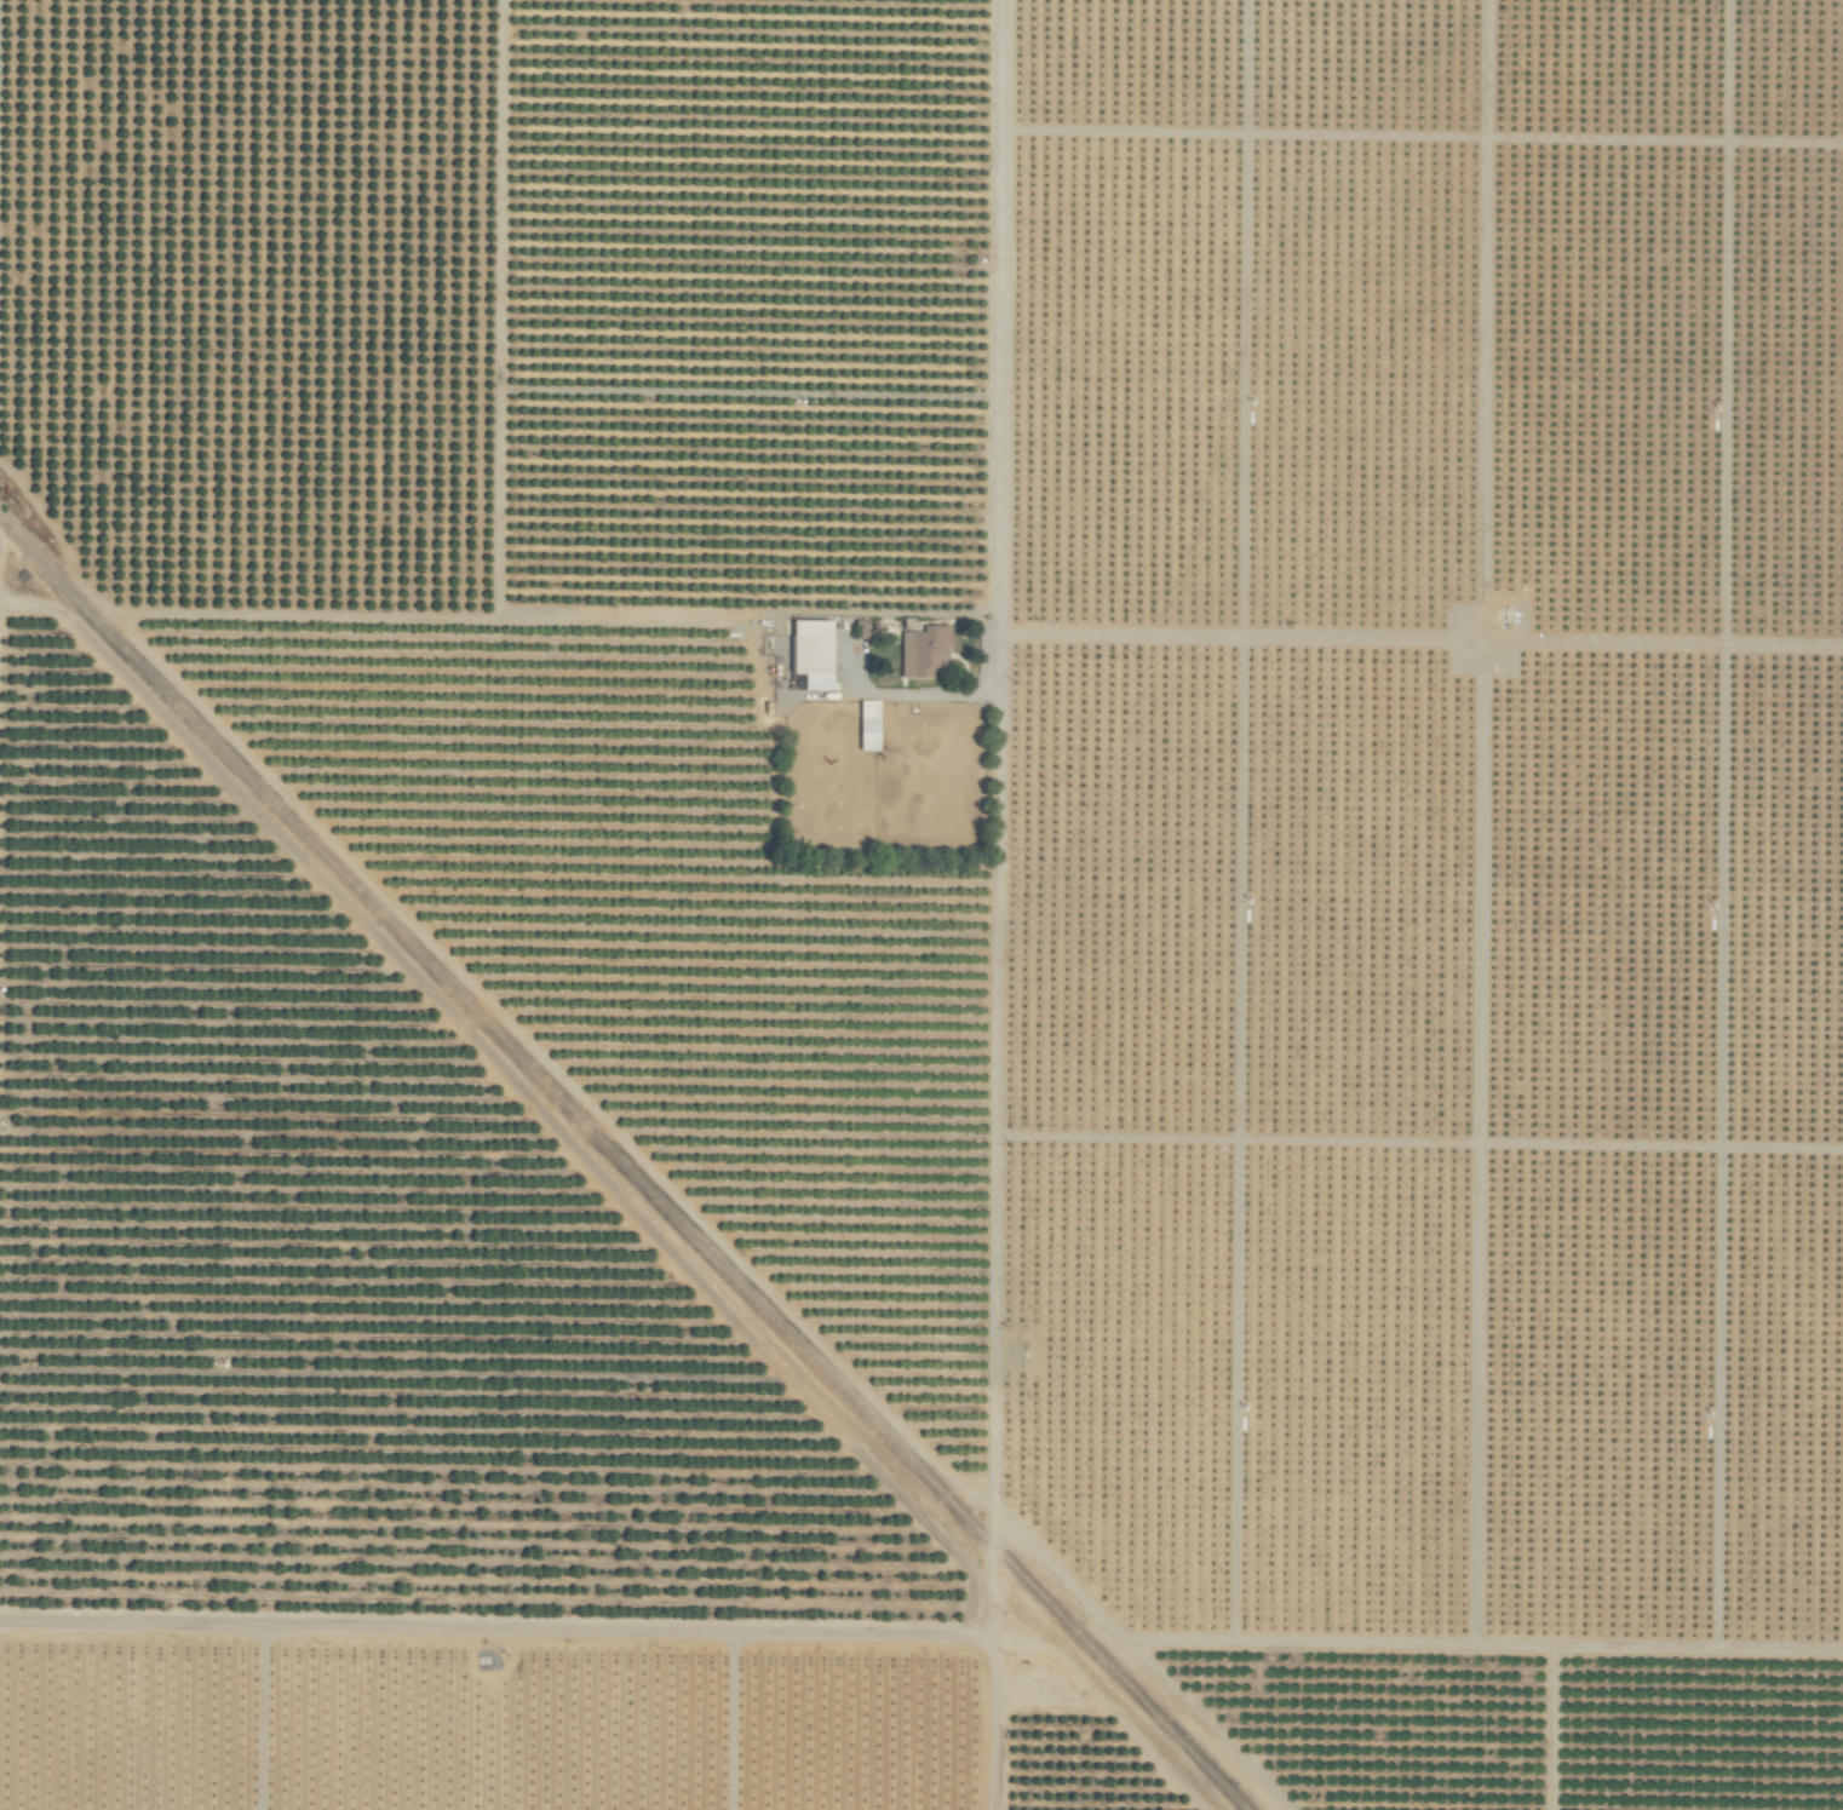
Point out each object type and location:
building: (920, 651)
building: (815, 653)
building: (871, 725)
crop: (921, 904)
road: (1001, 904)
railway: (621, 1166)
road: (499, 1647)

